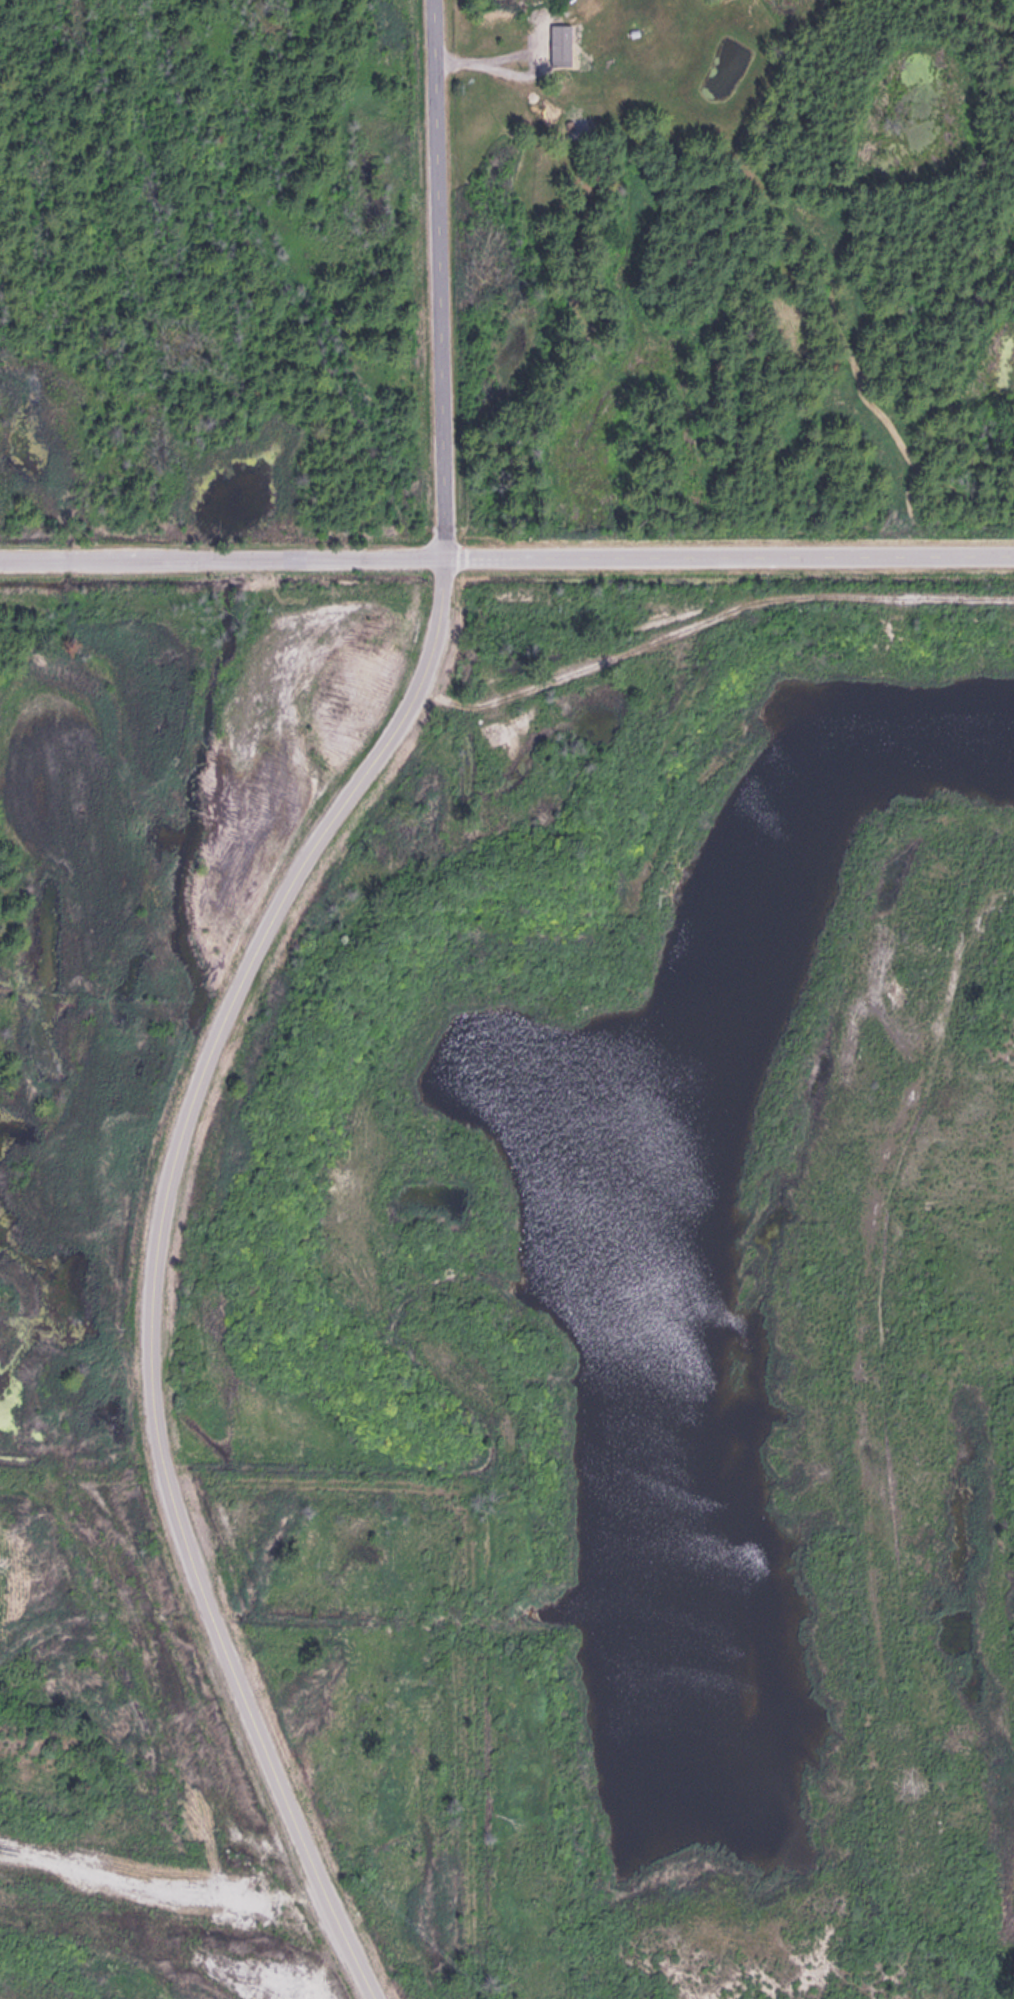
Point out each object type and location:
building: (566, 37)
road: (222, 553)
road: (729, 554)
road: (708, 619)
road: (381, 754)
road: (259, 1736)
road: (122, 1877)

